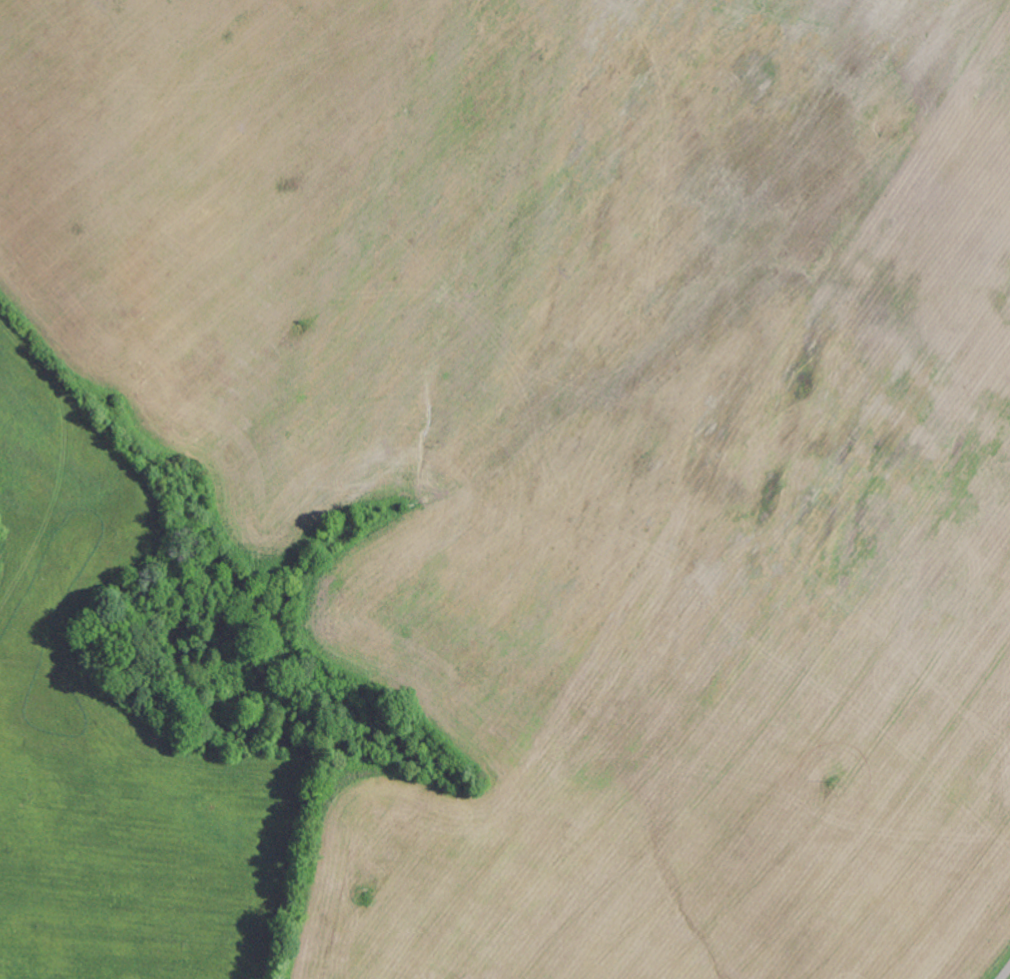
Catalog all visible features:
road: (1006, 973)

